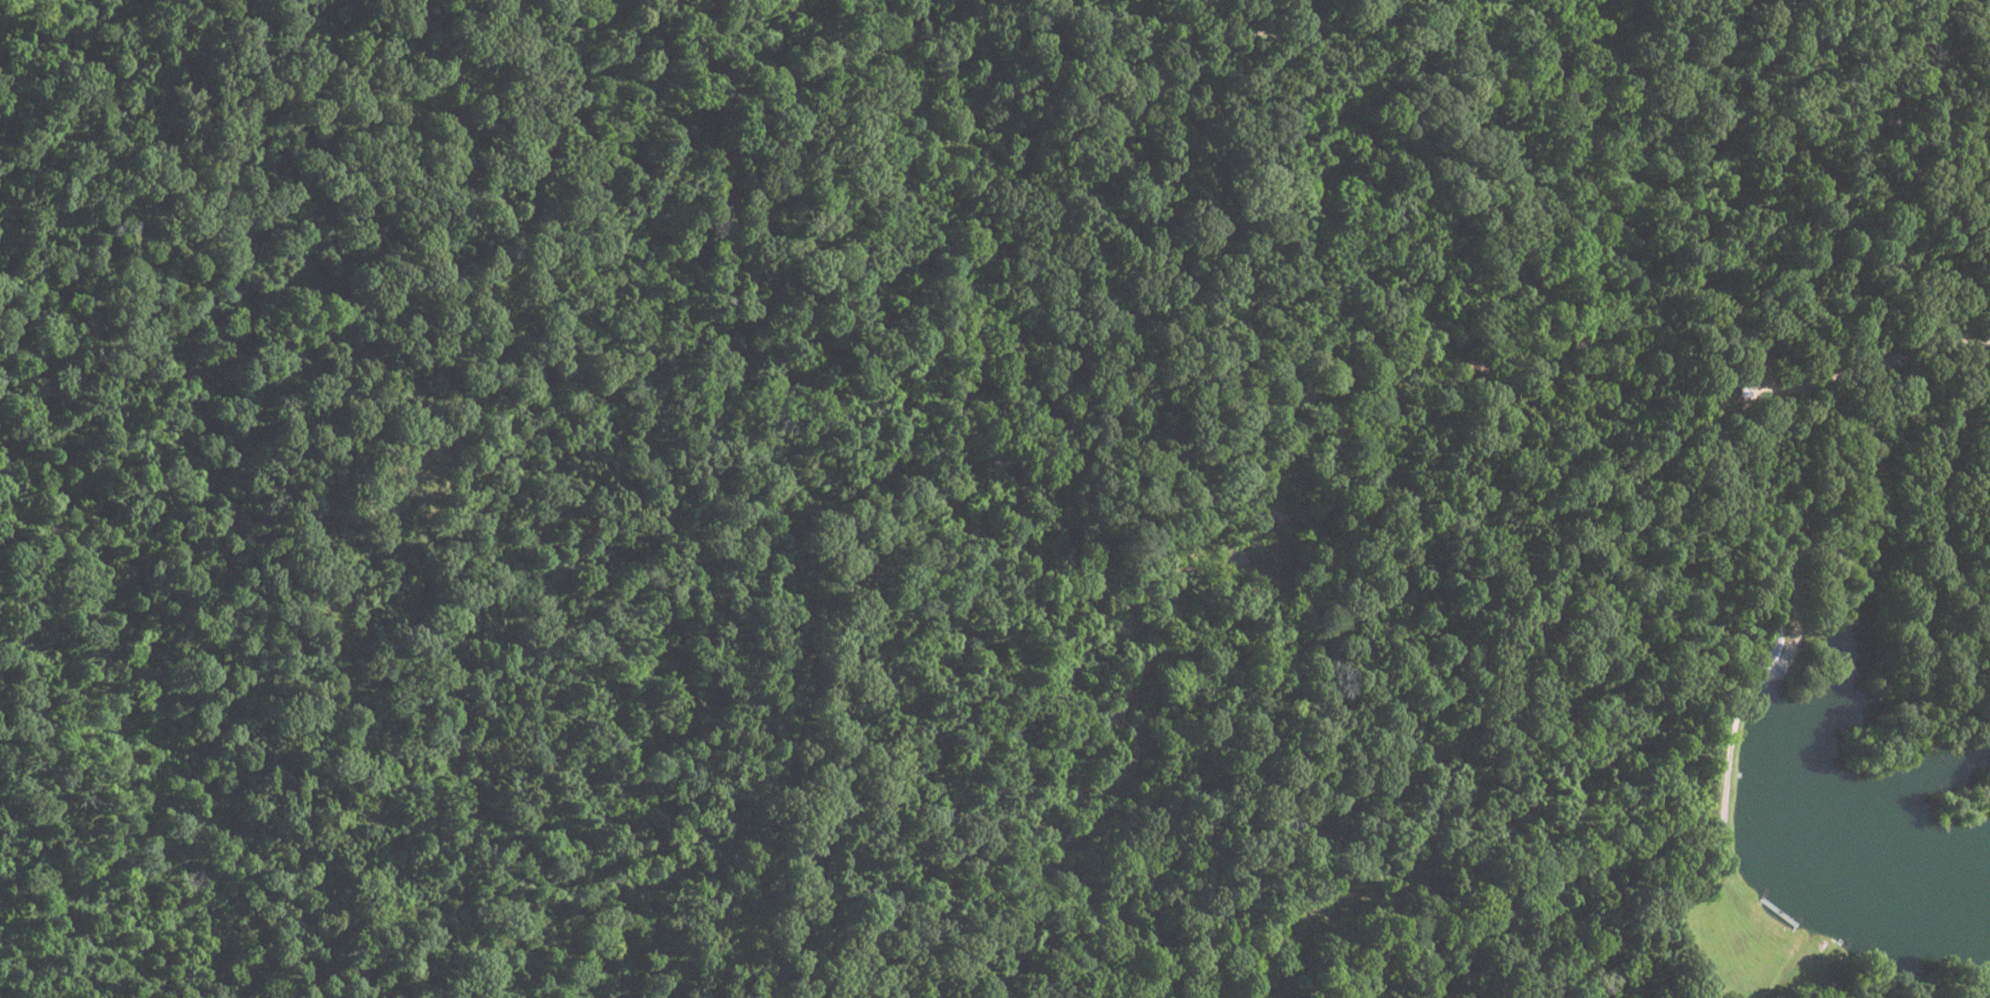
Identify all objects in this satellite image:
building: (1739, 382)

